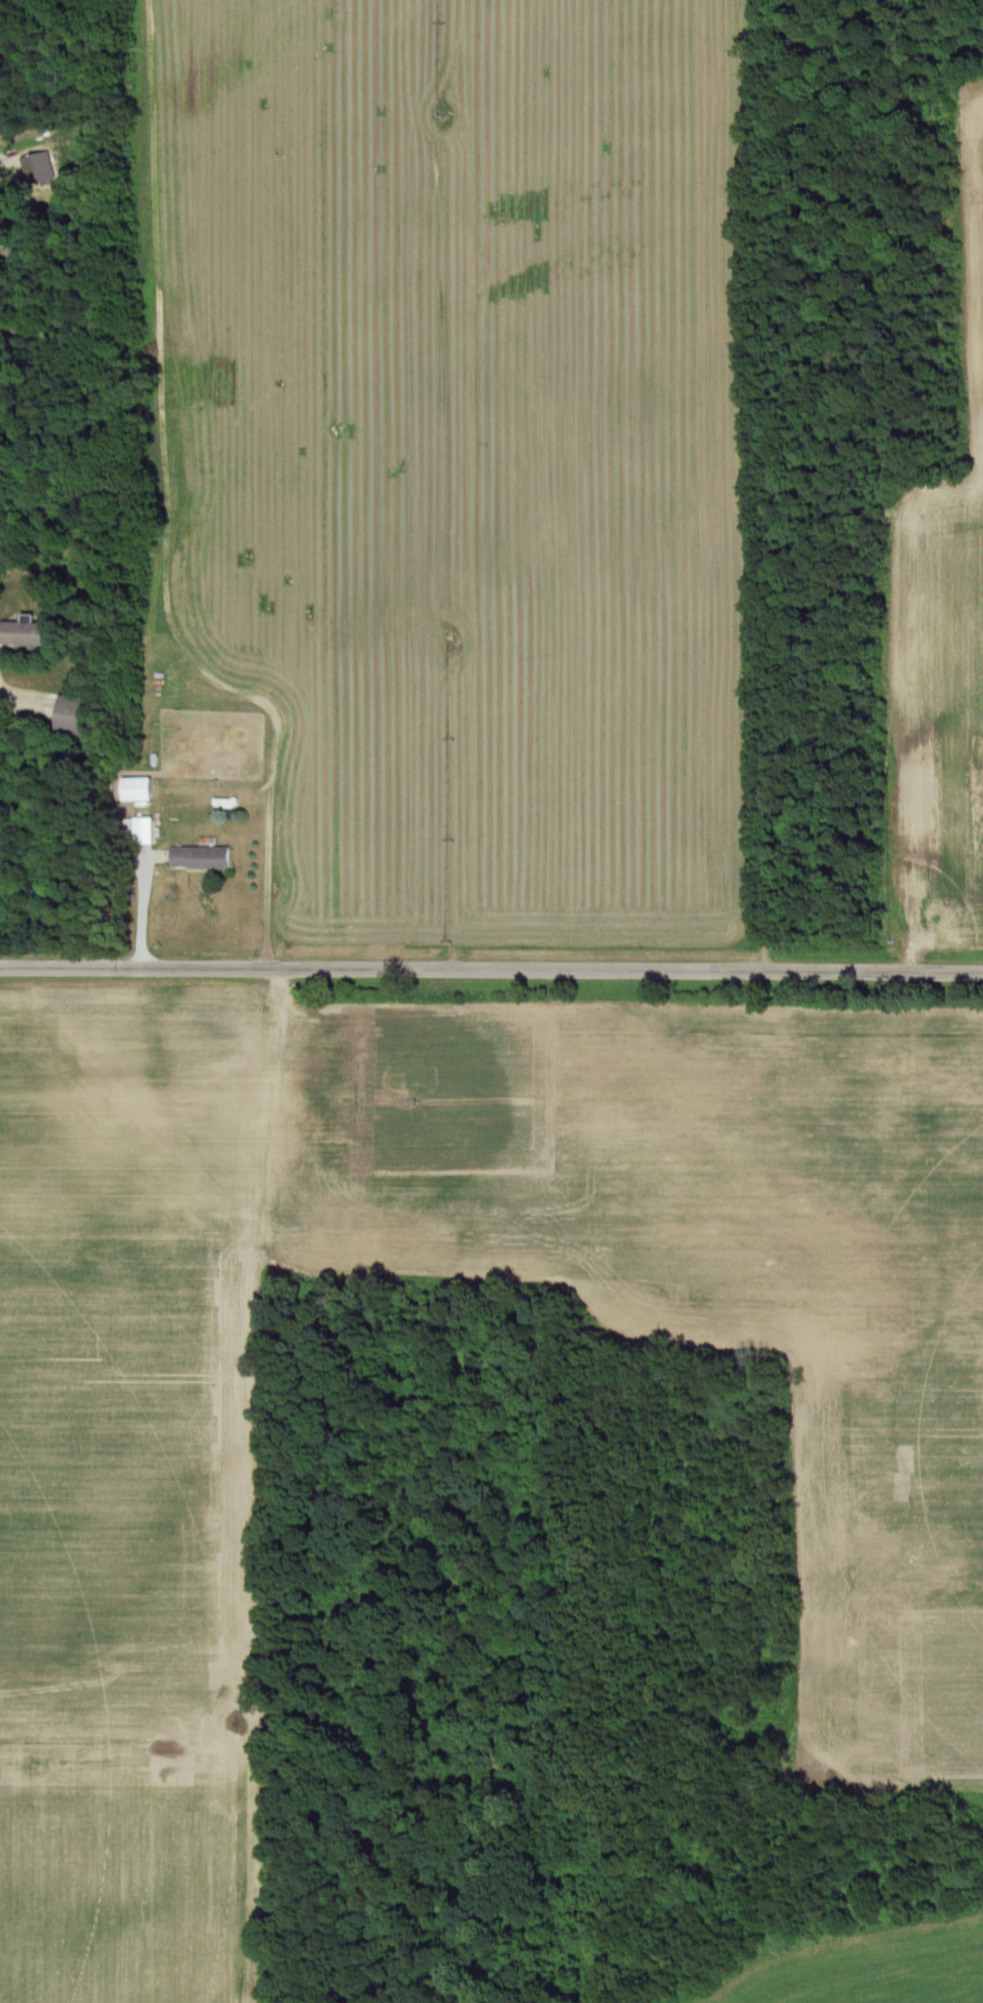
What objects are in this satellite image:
building: (24, 634)
building: (75, 716)
building: (202, 859)
road: (144, 915)
road: (491, 972)

